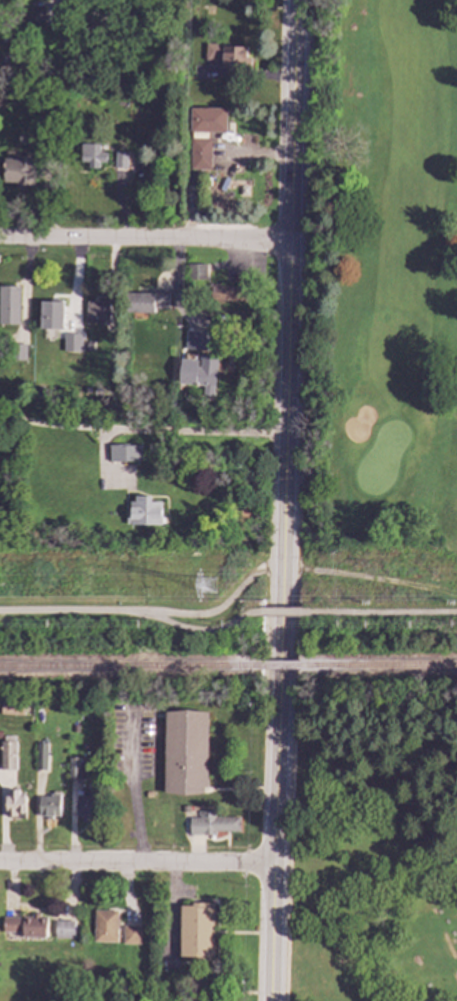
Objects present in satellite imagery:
building: (32, 16)
building: (95, 23)
building: (227, 55)
building: (208, 120)
building: (199, 153)
building: (92, 155)
building: (119, 159)
building: (18, 171)
road: (144, 239)
building: (196, 271)
park: (381, 275)
building: (226, 294)
building: (145, 301)
building: (9, 304)
building: (96, 312)
building: (51, 314)
building: (197, 341)
building: (71, 342)
building: (20, 352)
building: (199, 373)
road: (143, 431)
building: (125, 452)
road: (285, 500)
building: (145, 510)
power tower: (211, 589)
road: (222, 608)
road: (135, 612)
road: (286, 612)
road: (383, 612)
railway: (380, 666)
railway: (129, 667)
railway: (280, 667)
building: (11, 706)
building: (184, 752)
building: (7, 755)
building: (41, 755)
building: (75, 769)
building: (14, 803)
building: (85, 805)
road: (136, 812)
building: (212, 823)
park: (375, 852)
road: (135, 865)
road: (171, 912)
building: (25, 925)
building: (112, 928)
building: (63, 929)
building: (195, 930)
parking lot: (456, 975)

